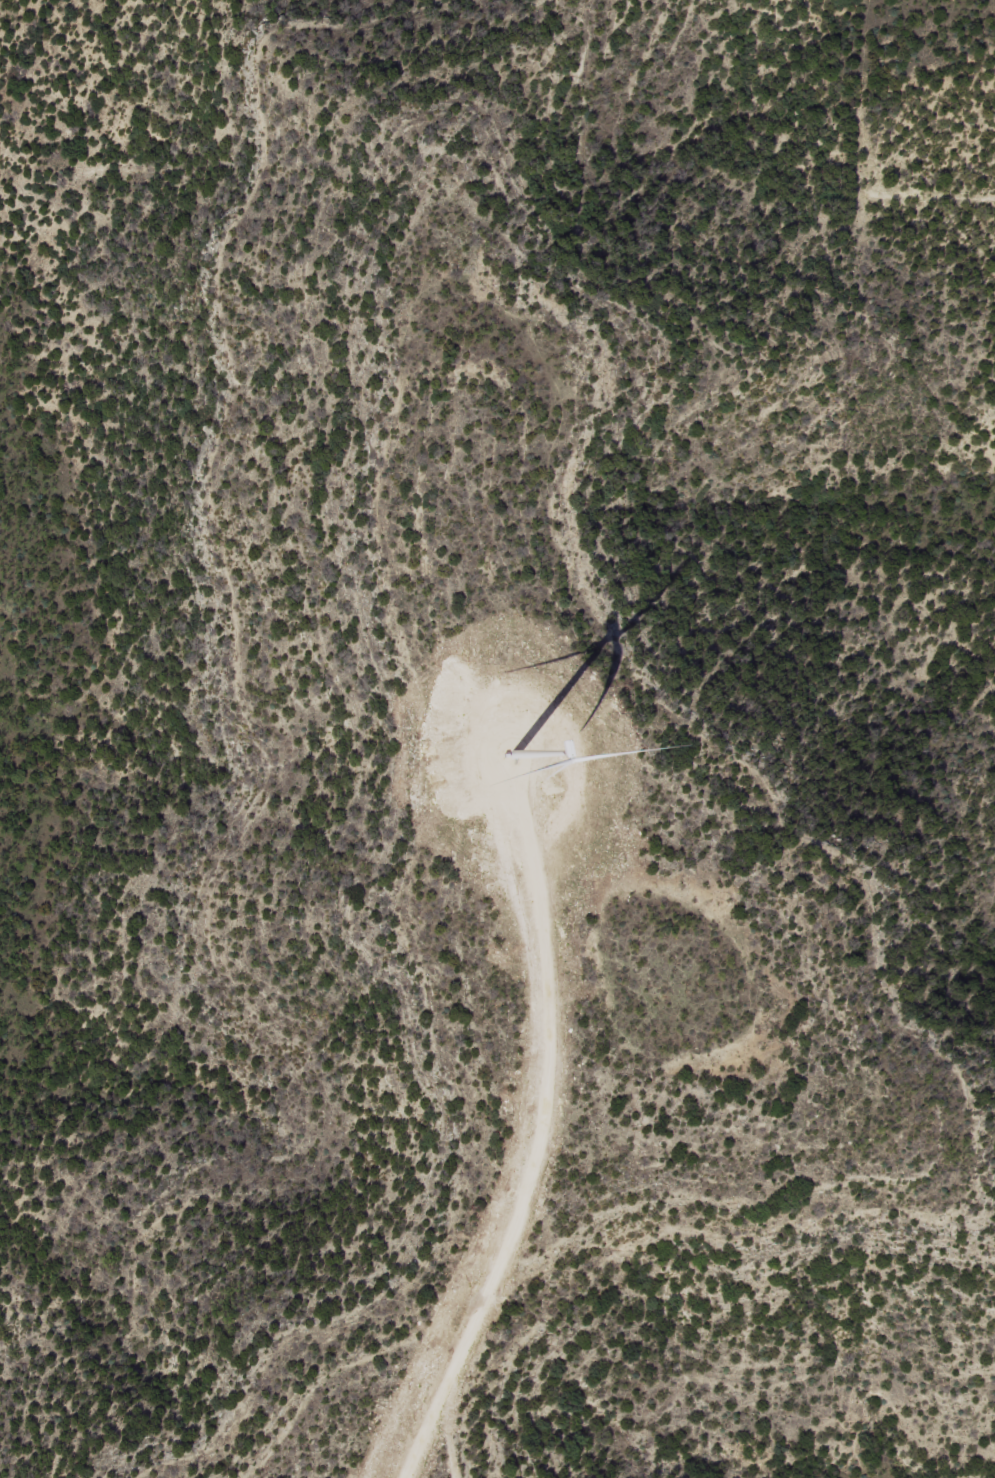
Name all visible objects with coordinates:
wind turbine: (517, 749)

